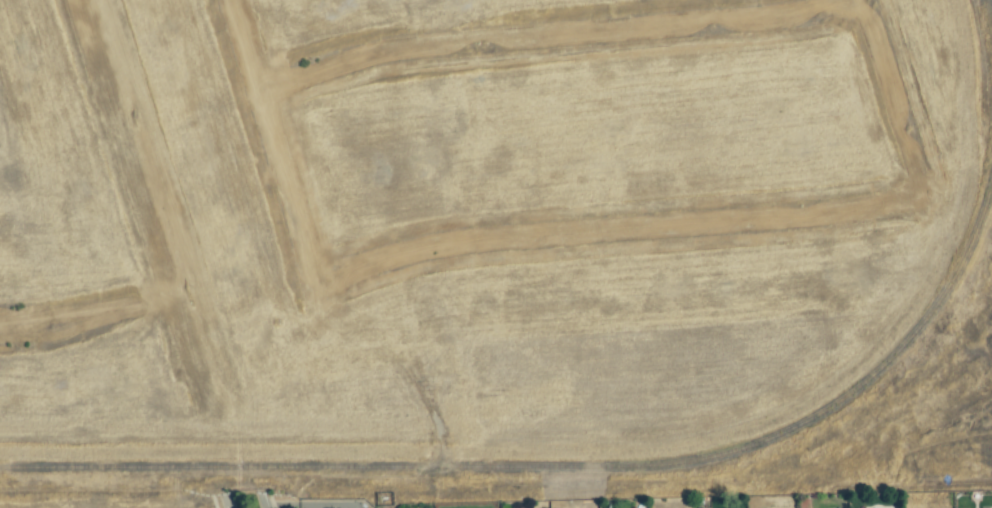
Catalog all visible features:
railway: (561, 468)
road: (261, 501)
road: (226, 502)
building: (334, 503)

